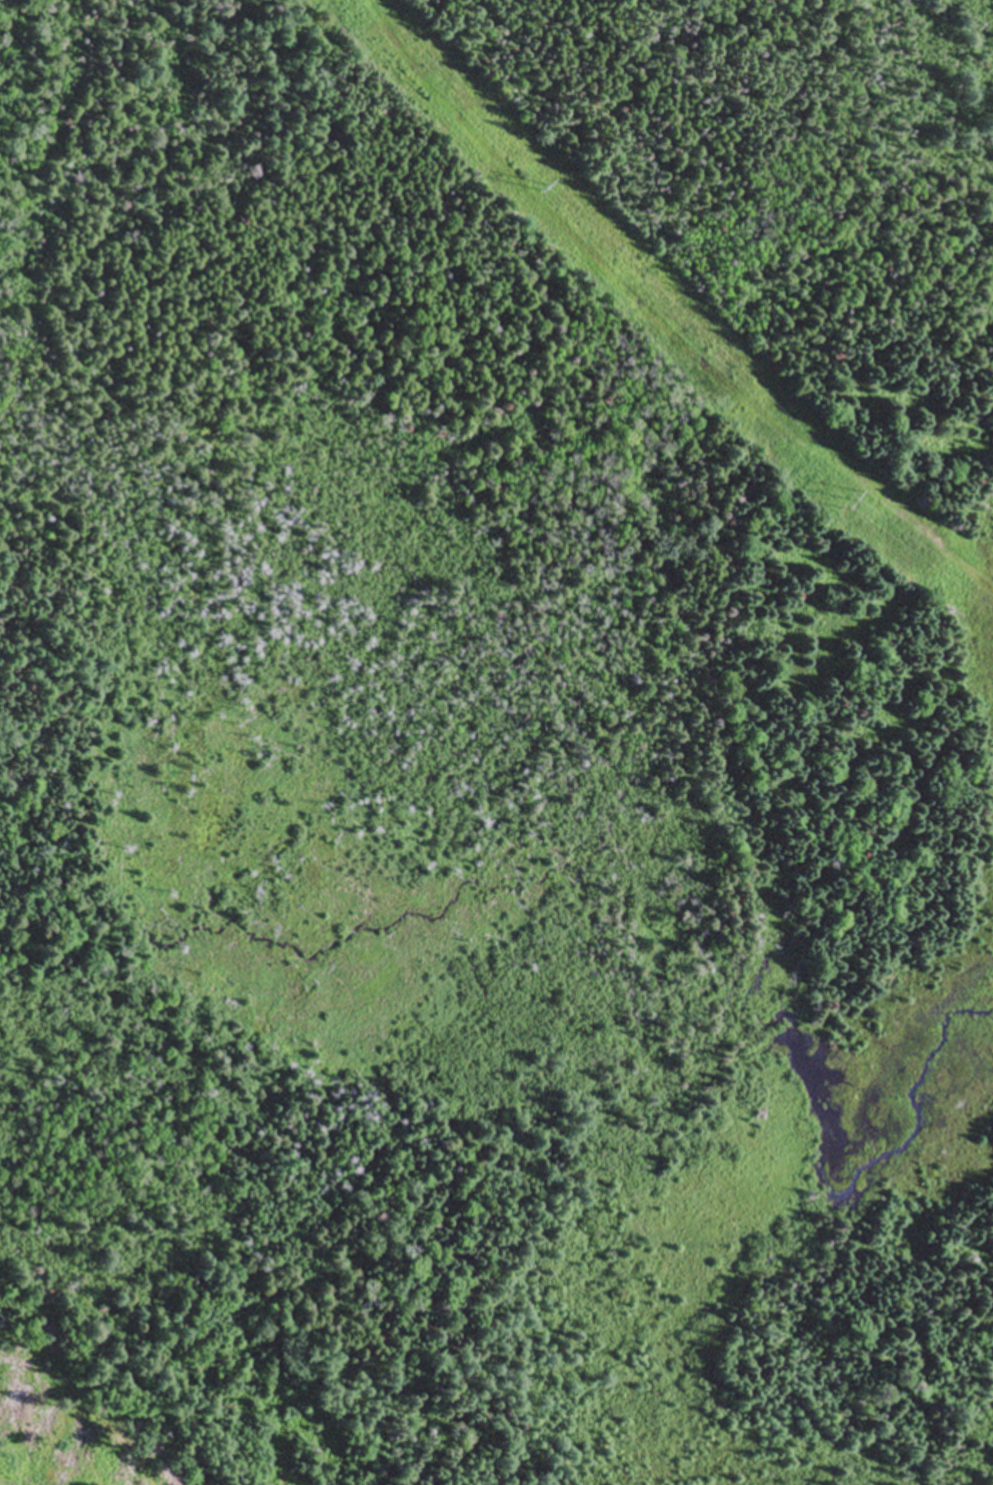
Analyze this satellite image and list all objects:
power tower: (544, 189)
power tower: (849, 500)

